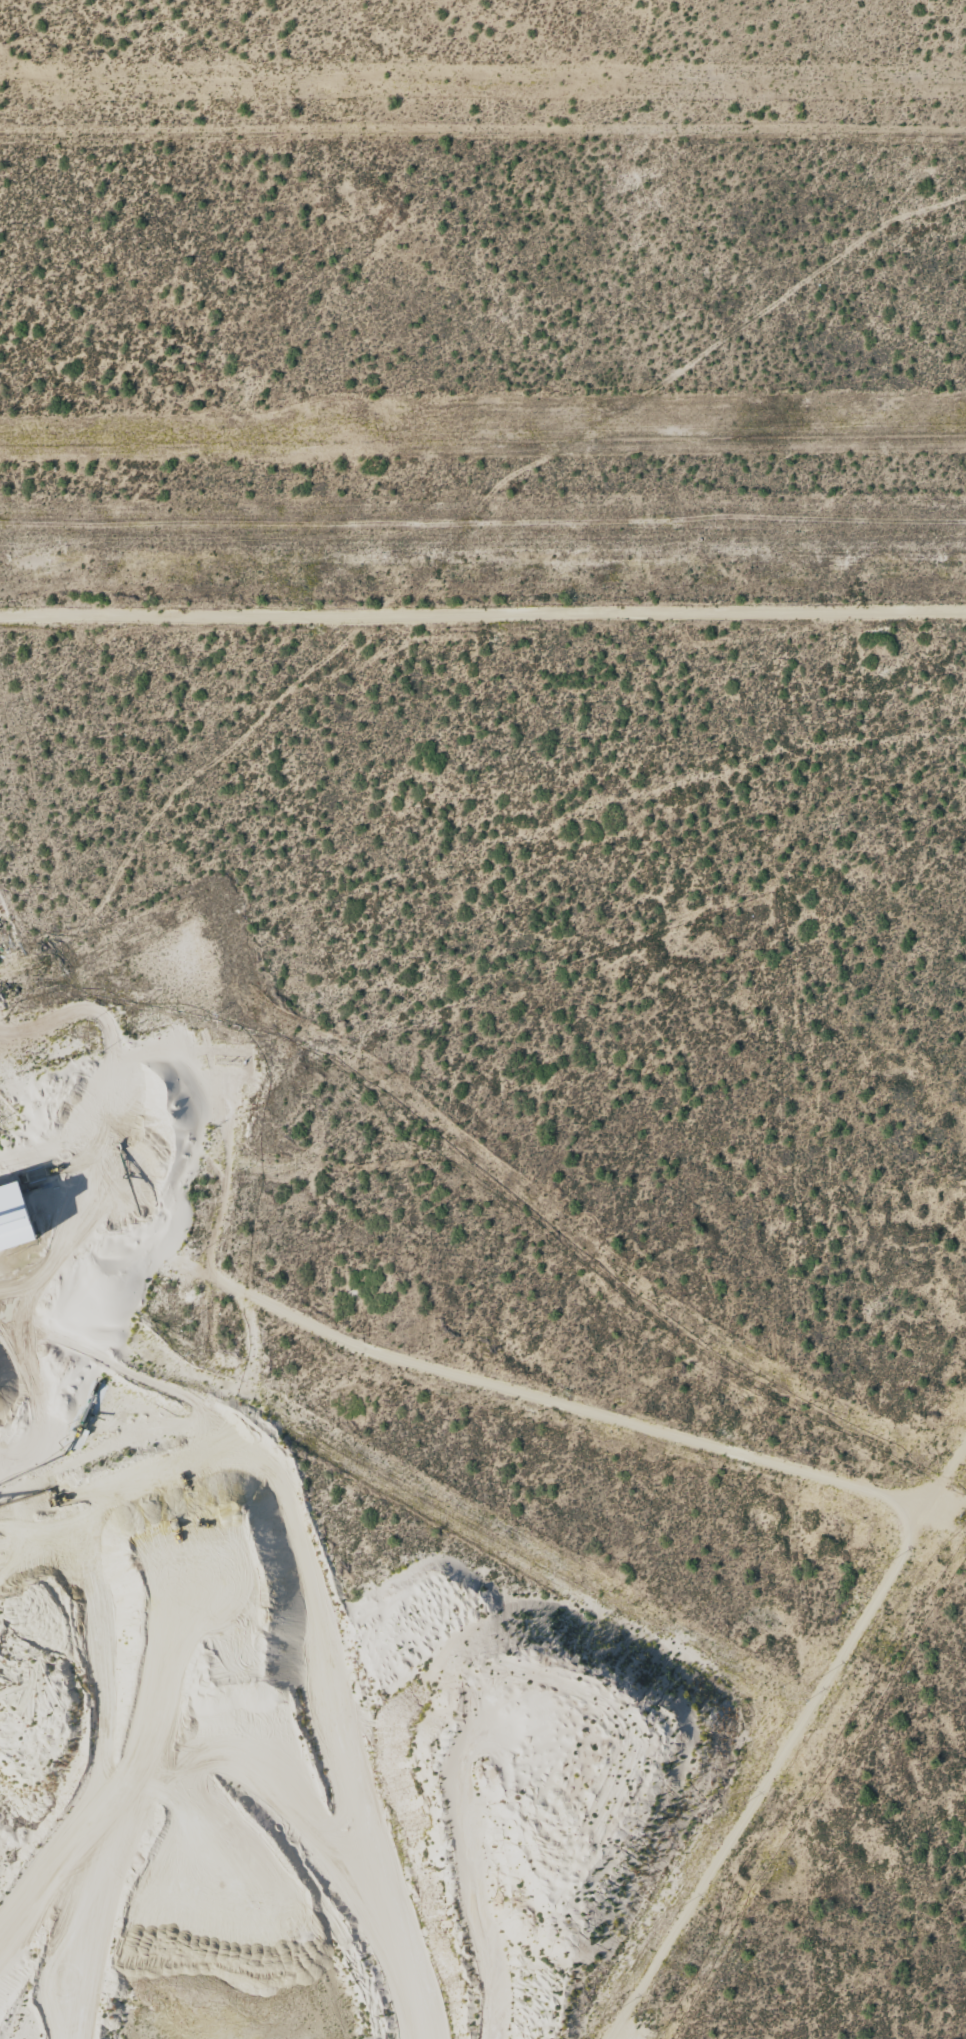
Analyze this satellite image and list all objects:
building: (20, 1217)
quarry: (276, 1595)

